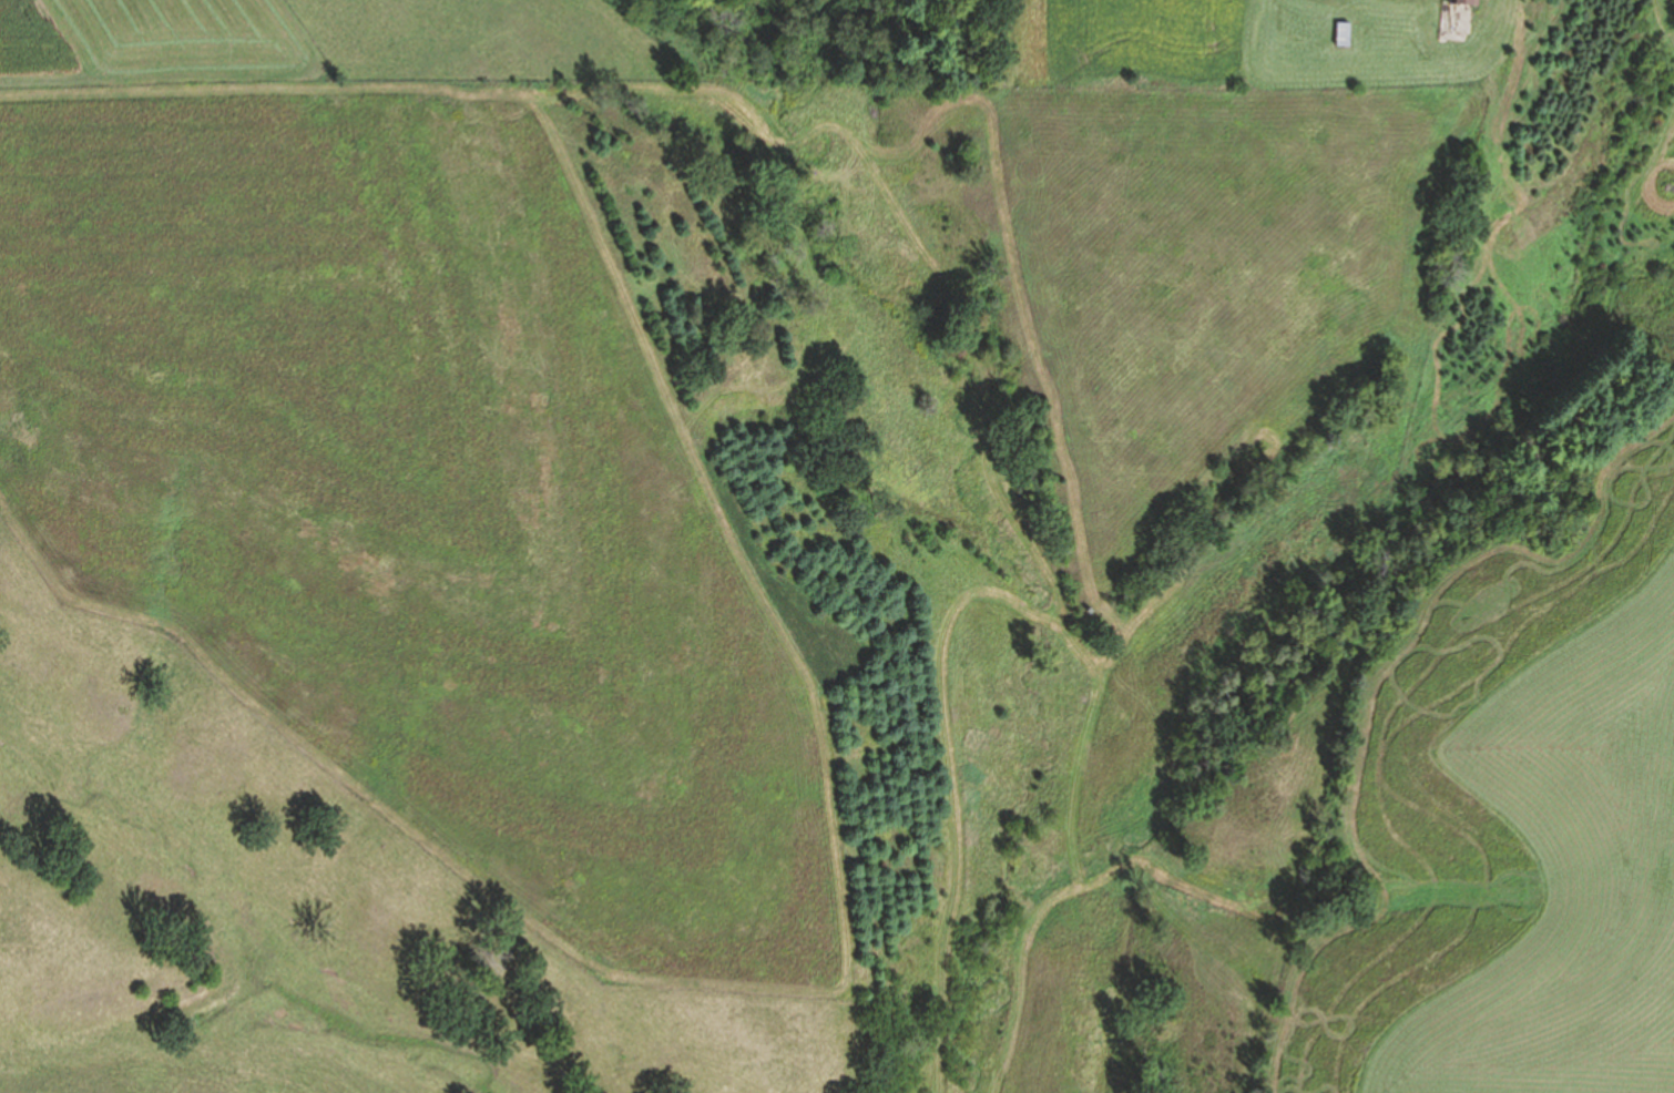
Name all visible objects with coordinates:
building: (1469, 1)
building: (1343, 33)

